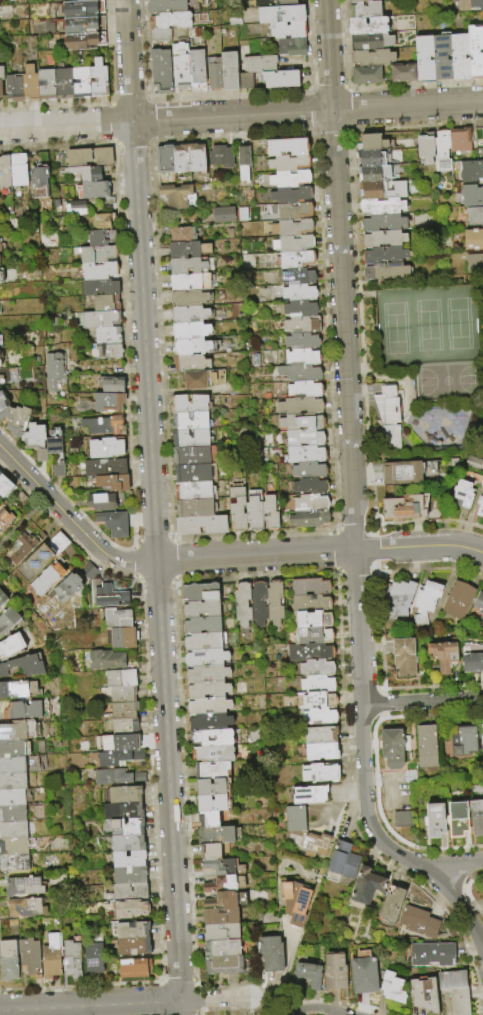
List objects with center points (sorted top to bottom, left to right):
building: (84, 0)
building: (358, 0)
building: (285, 4)
building: (470, 4)
building: (166, 6)
building: (82, 8)
building: (364, 9)
building: (280, 14)
building: (170, 20)
building: (83, 24)
building: (367, 25)
building: (287, 30)
building: (160, 34)
building: (84, 40)
building: (372, 41)
building: (291, 47)
building: (475, 50)
road: (328, 55)
building: (372, 57)
building: (441, 57)
building: (460, 57)
building: (424, 58)
road: (128, 61)
building: (258, 64)
building: (181, 66)
building: (197, 69)
building: (160, 70)
building: (228, 71)
building: (402, 72)
building: (214, 73)
building: (366, 75)
building: (99, 78)
building: (1, 79)
building: (280, 79)
building: (245, 81)
building: (83, 82)
building: (30, 83)
building: (47, 83)
building: (66, 83)
building: (14, 88)
road: (407, 106)
road: (231, 116)
road: (66, 125)
building: (482, 133)
building: (459, 140)
building: (371, 142)
building: (286, 146)
building: (425, 149)
building: (441, 150)
building: (220, 156)
building: (371, 157)
building: (87, 158)
building: (196, 159)
building: (180, 160)
building: (163, 161)
building: (242, 162)
building: (288, 163)
building: (471, 169)
building: (16, 170)
building: (4, 173)
building: (375, 173)
building: (84, 174)
building: (37, 177)
building: (289, 179)
building: (383, 189)
building: (93, 193)
building: (471, 194)
building: (290, 195)
building: (176, 197)
building: (382, 205)
building: (74, 209)
building: (290, 211)
building: (223, 215)
building: (474, 216)
building: (98, 222)
building: (383, 222)
building: (290, 227)
building: (181, 234)
building: (47, 235)
building: (99, 238)
building: (383, 238)
building: (473, 239)
building: (292, 244)
building: (0, 248)
building: (187, 249)
building: (93, 254)
building: (384, 254)
building: (296, 259)
building: (473, 264)
building: (188, 265)
building: (385, 270)
building: (96, 271)
building: (297, 276)
building: (189, 282)
building: (96, 288)
building: (298, 292)
building: (188, 298)
building: (103, 304)
building: (299, 308)
building: (190, 314)
building: (98, 320)
building: (300, 325)
park: (426, 328)
building: (190, 332)
building: (105, 336)
building: (301, 341)
road: (143, 342)
building: (193, 347)
building: (106, 352)
building: (301, 357)
building: (0, 360)
building: (189, 363)
park: (422, 364)
building: (54, 370)
building: (298, 372)
building: (203, 379)
park: (446, 385)
building: (109, 386)
building: (303, 390)
building: (3, 403)
building: (106, 403)
building: (189, 404)
building: (299, 406)
building: (389, 417)
building: (14, 420)
building: (188, 421)
building: (301, 422)
building: (101, 426)
building: (190, 438)
building: (304, 438)
building: (33, 441)
building: (52, 442)
building: (103, 448)
building: (305, 454)
building: (191, 455)
building: (472, 463)
building: (103, 468)
building: (0, 469)
building: (56, 470)
building: (308, 470)
building: (191, 473)
building: (409, 473)
building: (0, 475)
building: (111, 483)
building: (482, 484)
building: (4, 486)
building: (309, 486)
building: (192, 491)
building: (463, 494)
building: (19, 500)
building: (99, 503)
building: (309, 503)
building: (480, 507)
building: (195, 508)
building: (404, 508)
building: (237, 509)
building: (253, 510)
building: (269, 513)
building: (5, 518)
road: (70, 519)
building: (308, 519)
building: (111, 524)
building: (200, 525)
building: (21, 548)
road: (319, 552)
road: (355, 553)
building: (46, 554)
building: (84, 572)
building: (42, 580)
building: (308, 587)
building: (62, 590)
building: (198, 593)
building: (108, 597)
building: (3, 598)
building: (426, 598)
building: (396, 600)
building: (456, 601)
building: (273, 603)
building: (258, 604)
building: (242, 605)
building: (309, 605)
building: (478, 606)
building: (199, 609)
building: (115, 620)
building: (8, 621)
building: (310, 621)
building: (200, 626)
building: (311, 636)
building: (120, 639)
building: (201, 642)
building: (11, 645)
building: (308, 652)
building: (443, 657)
building: (204, 658)
building: (403, 658)
building: (471, 659)
building: (107, 661)
building: (22, 666)
building: (316, 669)
building: (205, 674)
building: (118, 679)
building: (316, 685)
building: (13, 689)
building: (206, 690)
building: (120, 695)
building: (314, 701)
road: (423, 701)
building: (207, 708)
building: (22, 710)
building: (121, 711)
building: (318, 717)
building: (207, 724)
building: (121, 727)
building: (16, 732)
building: (319, 736)
building: (210, 739)
building: (481, 740)
building: (463, 742)
building: (116, 744)
building: (425, 747)
building: (392, 749)
building: (10, 750)
building: (319, 752)
building: (212, 755)
building: (115, 758)
building: (11, 766)
building: (210, 771)
building: (320, 774)
building: (115, 778)
road: (167, 781)
building: (11, 782)
building: (211, 787)
building: (121, 795)
building: (309, 796)
building: (11, 799)
building: (213, 804)
building: (120, 812)
building: (11, 815)
building: (475, 818)
building: (293, 819)
building: (207, 820)
building: (400, 820)
building: (456, 820)
building: (433, 821)
building: (123, 828)
building: (11, 831)
building: (214, 836)
building: (125, 844)
building: (313, 845)
building: (12, 847)
building: (209, 852)
building: (126, 860)
building: (12, 864)
building: (340, 864)
road: (457, 865)
building: (221, 867)
building: (127, 876)
building: (223, 885)
building: (365, 887)
building: (20, 888)
building: (127, 893)
building: (224, 901)
building: (294, 905)
building: (390, 905)
building: (22, 909)
building: (126, 909)
building: (218, 917)
building: (417, 923)
building: (129, 931)
building: (219, 934)
building: (130, 948)
building: (220, 949)
building: (270, 954)
building: (430, 955)
building: (30, 956)
building: (52, 956)
building: (94, 957)
building: (71, 958)
building: (8, 961)
building: (222, 965)
building: (131, 969)
building: (333, 973)
building: (362, 974)
road: (283, 975)
building: (304, 978)
building: (390, 988)
building: (453, 991)
building: (423, 996)
road: (214, 999)
road: (90, 1006)
road: (266, 1006)
road: (311, 1007)
road: (180, 1008)

